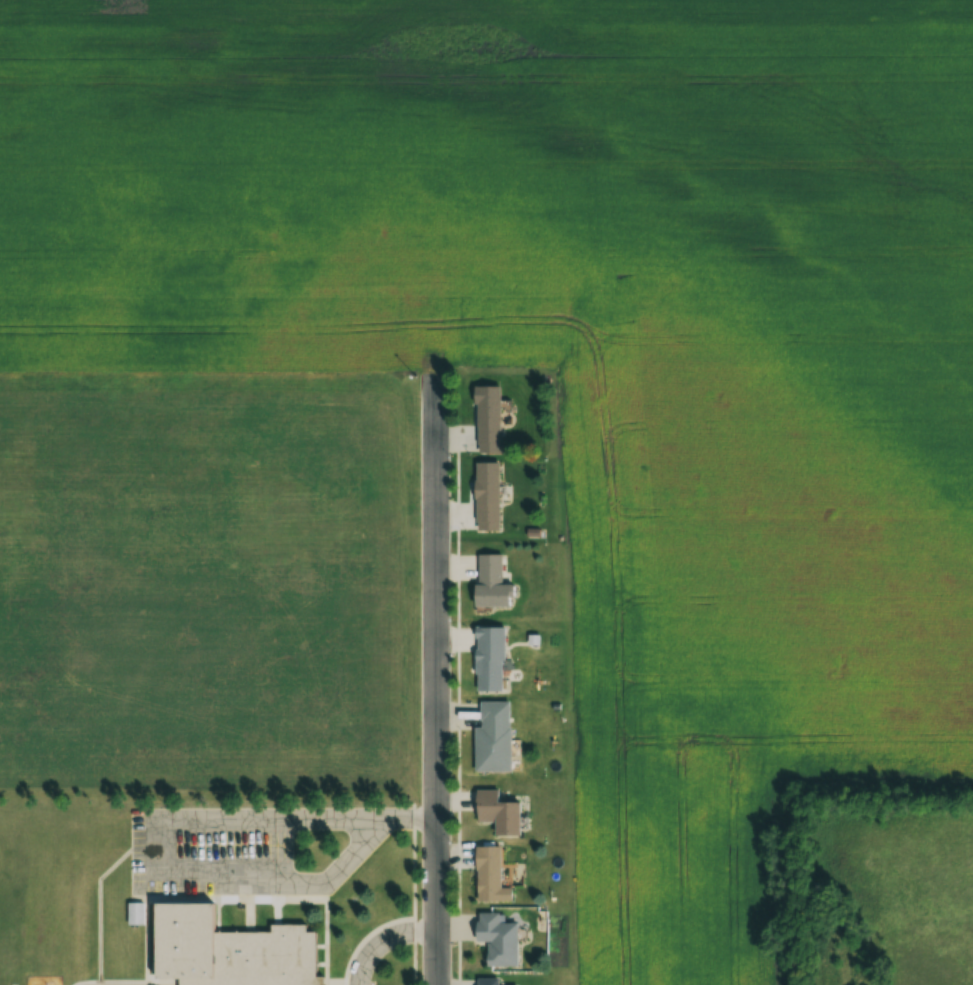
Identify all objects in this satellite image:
building: (485, 419)
building: (484, 495)
building: (488, 583)
building: (487, 658)
road: (436, 672)
building: (491, 737)
road: (415, 802)
building: (494, 812)
road: (339, 818)
road: (410, 818)
road: (157, 826)
parking lot: (213, 850)
road: (414, 873)
building: (488, 875)
road: (332, 876)
building: (134, 913)
road: (384, 938)
building: (495, 939)
building: (225, 950)
road: (414, 963)
building: (484, 981)

